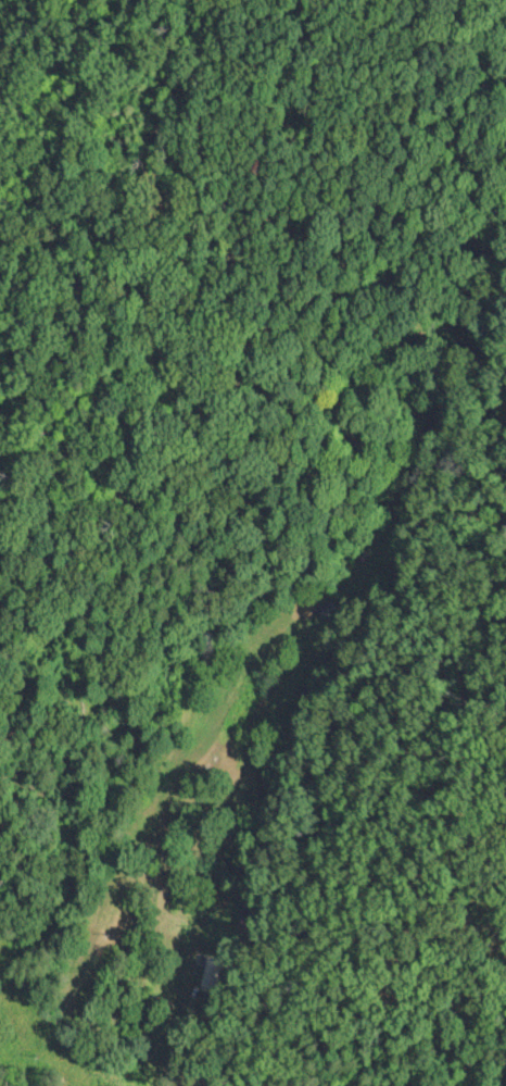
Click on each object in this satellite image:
building: (327, 609)
building: (211, 972)

